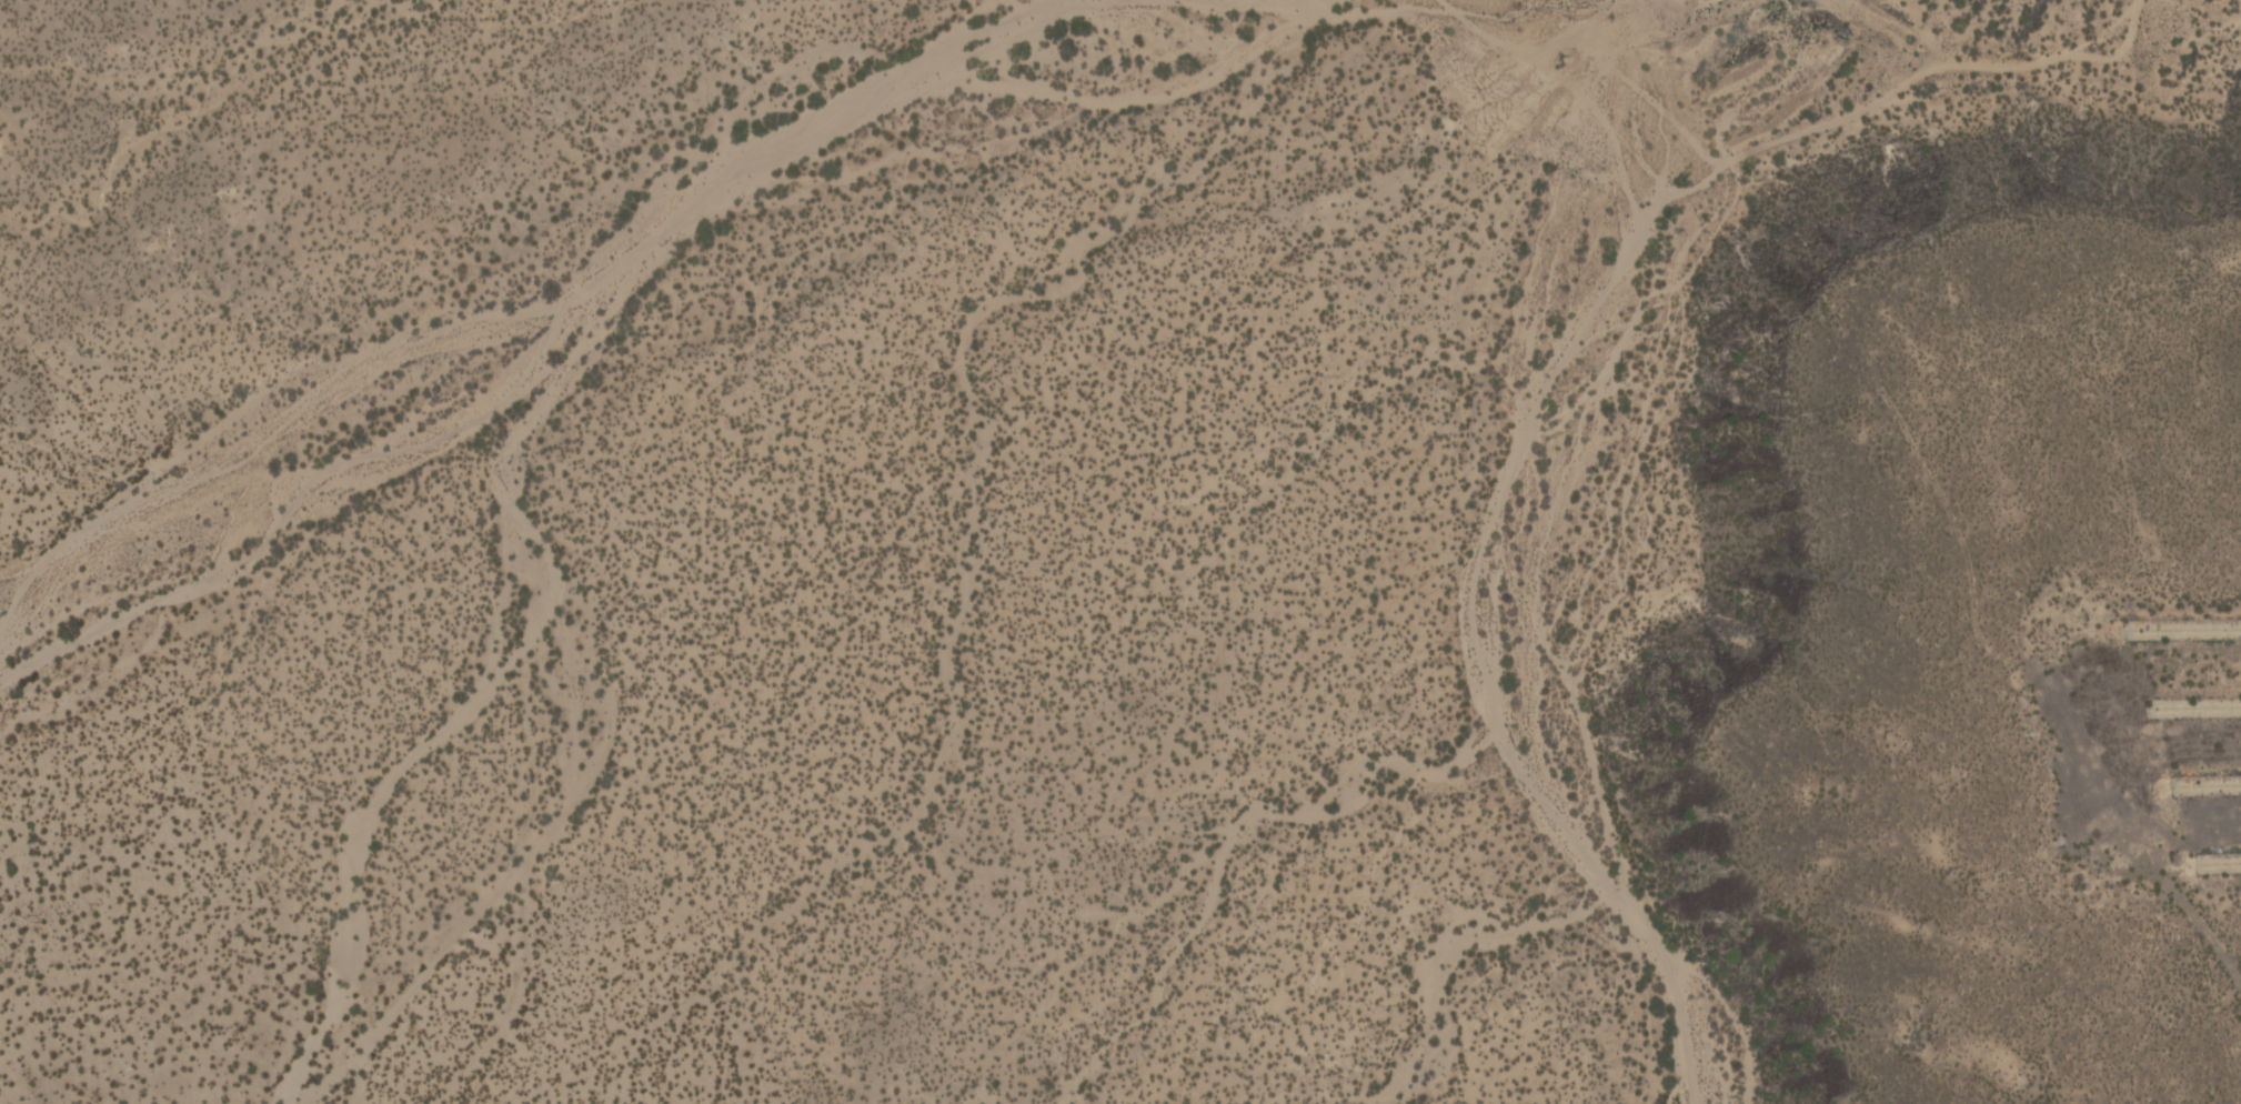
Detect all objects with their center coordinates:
road: (2187, 909)

